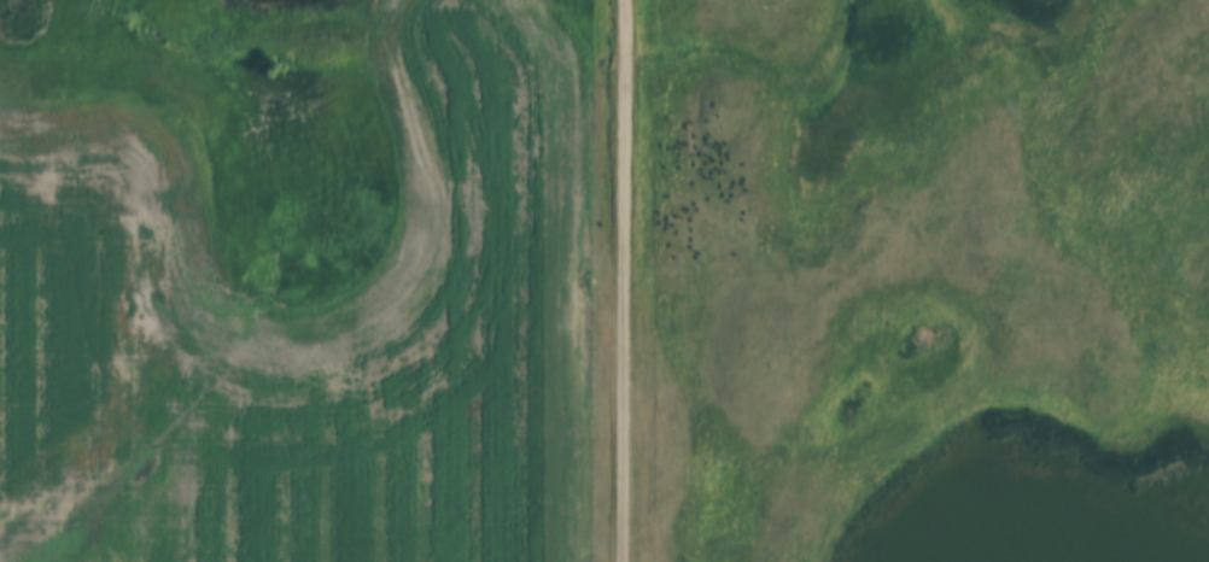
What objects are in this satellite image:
road: (623, 281)

